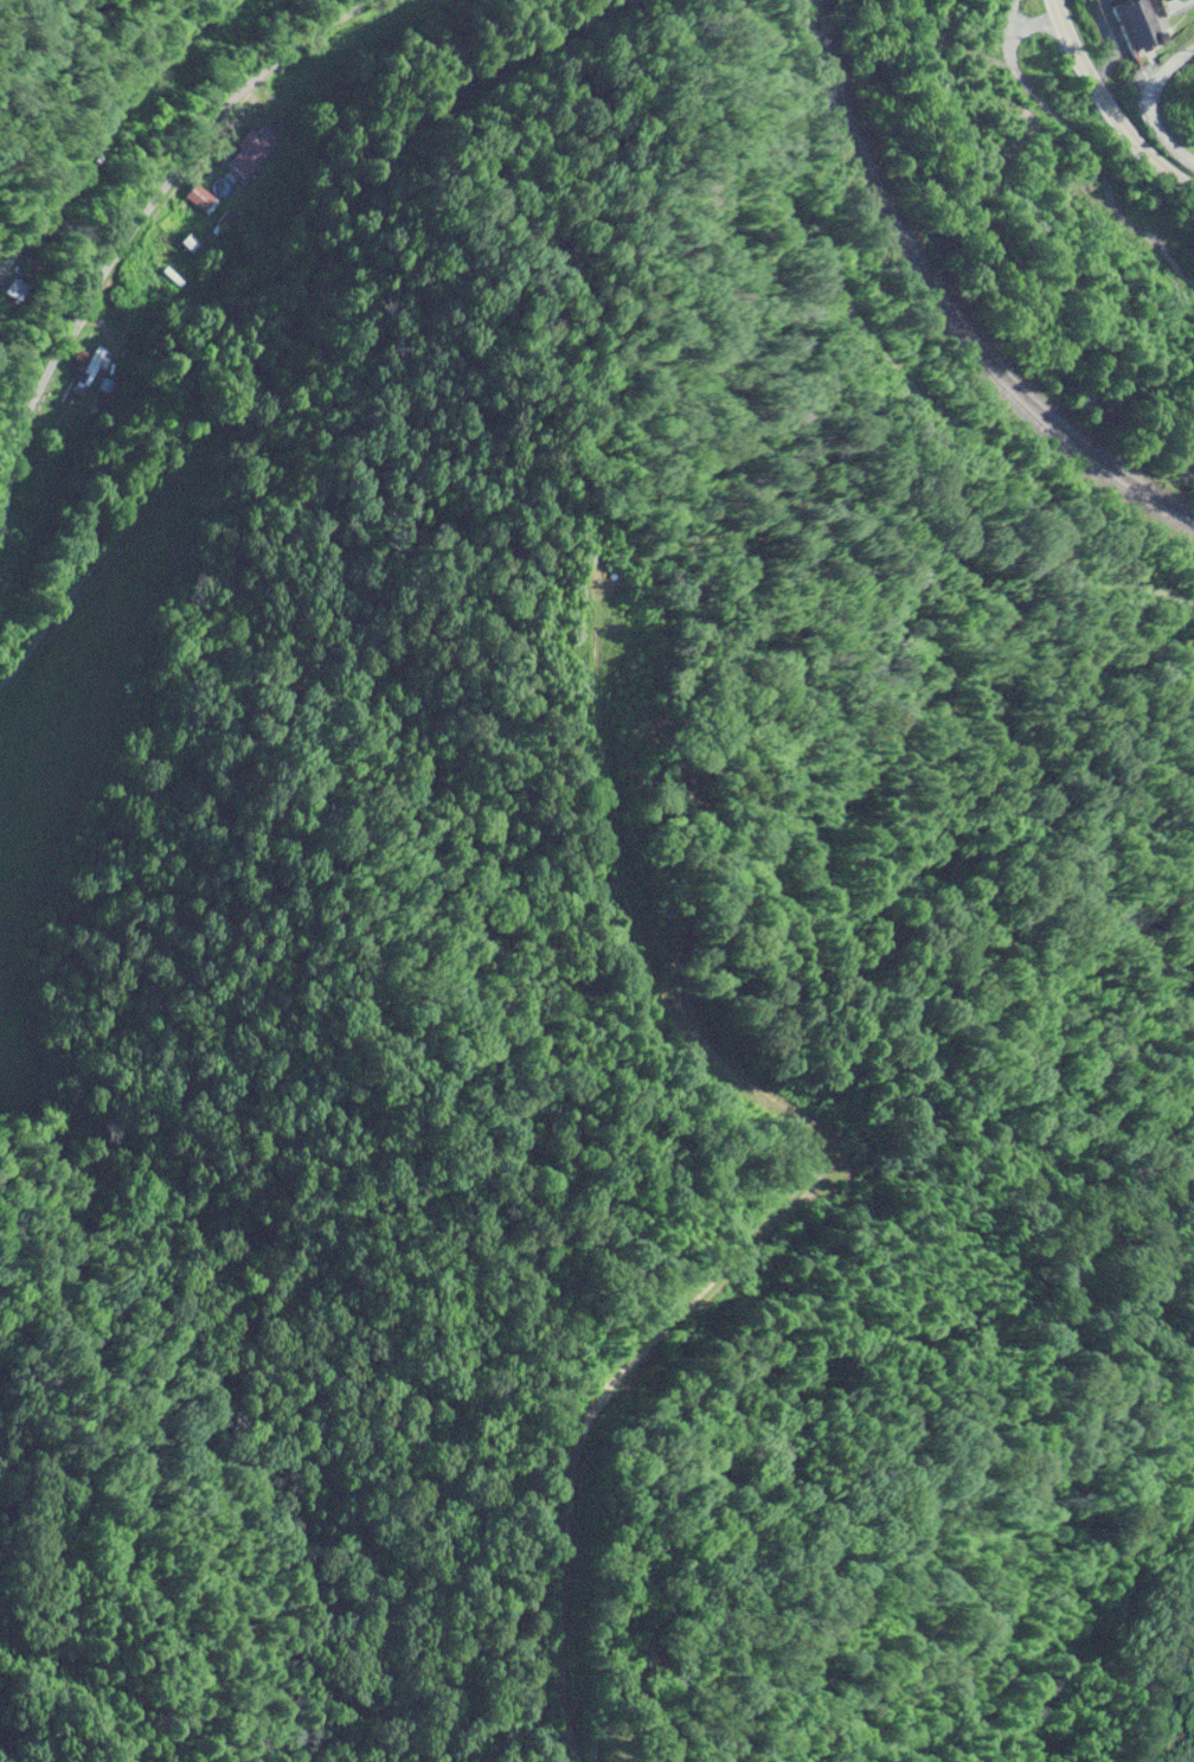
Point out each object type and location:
building: (1143, 24)
road: (1174, 30)
road: (1158, 102)
road: (1109, 107)
building: (255, 149)
building: (203, 198)
building: (227, 219)
building: (191, 243)
road: (154, 246)
building: (23, 287)
railway: (935, 309)
building: (91, 370)

